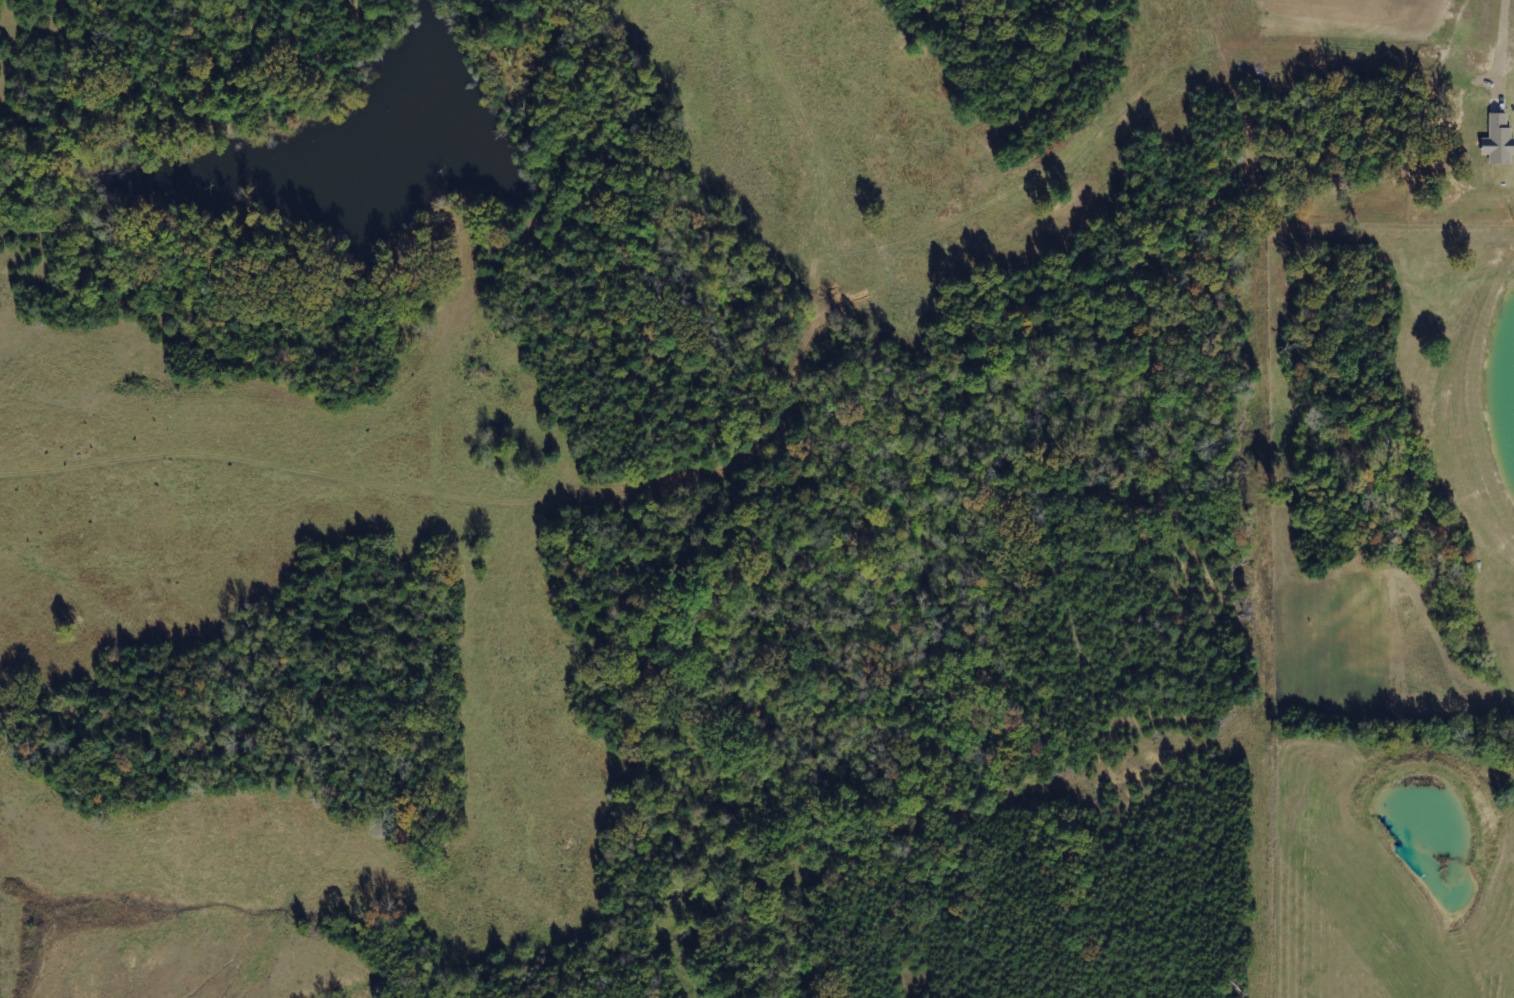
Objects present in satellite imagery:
building: (1500, 132)

